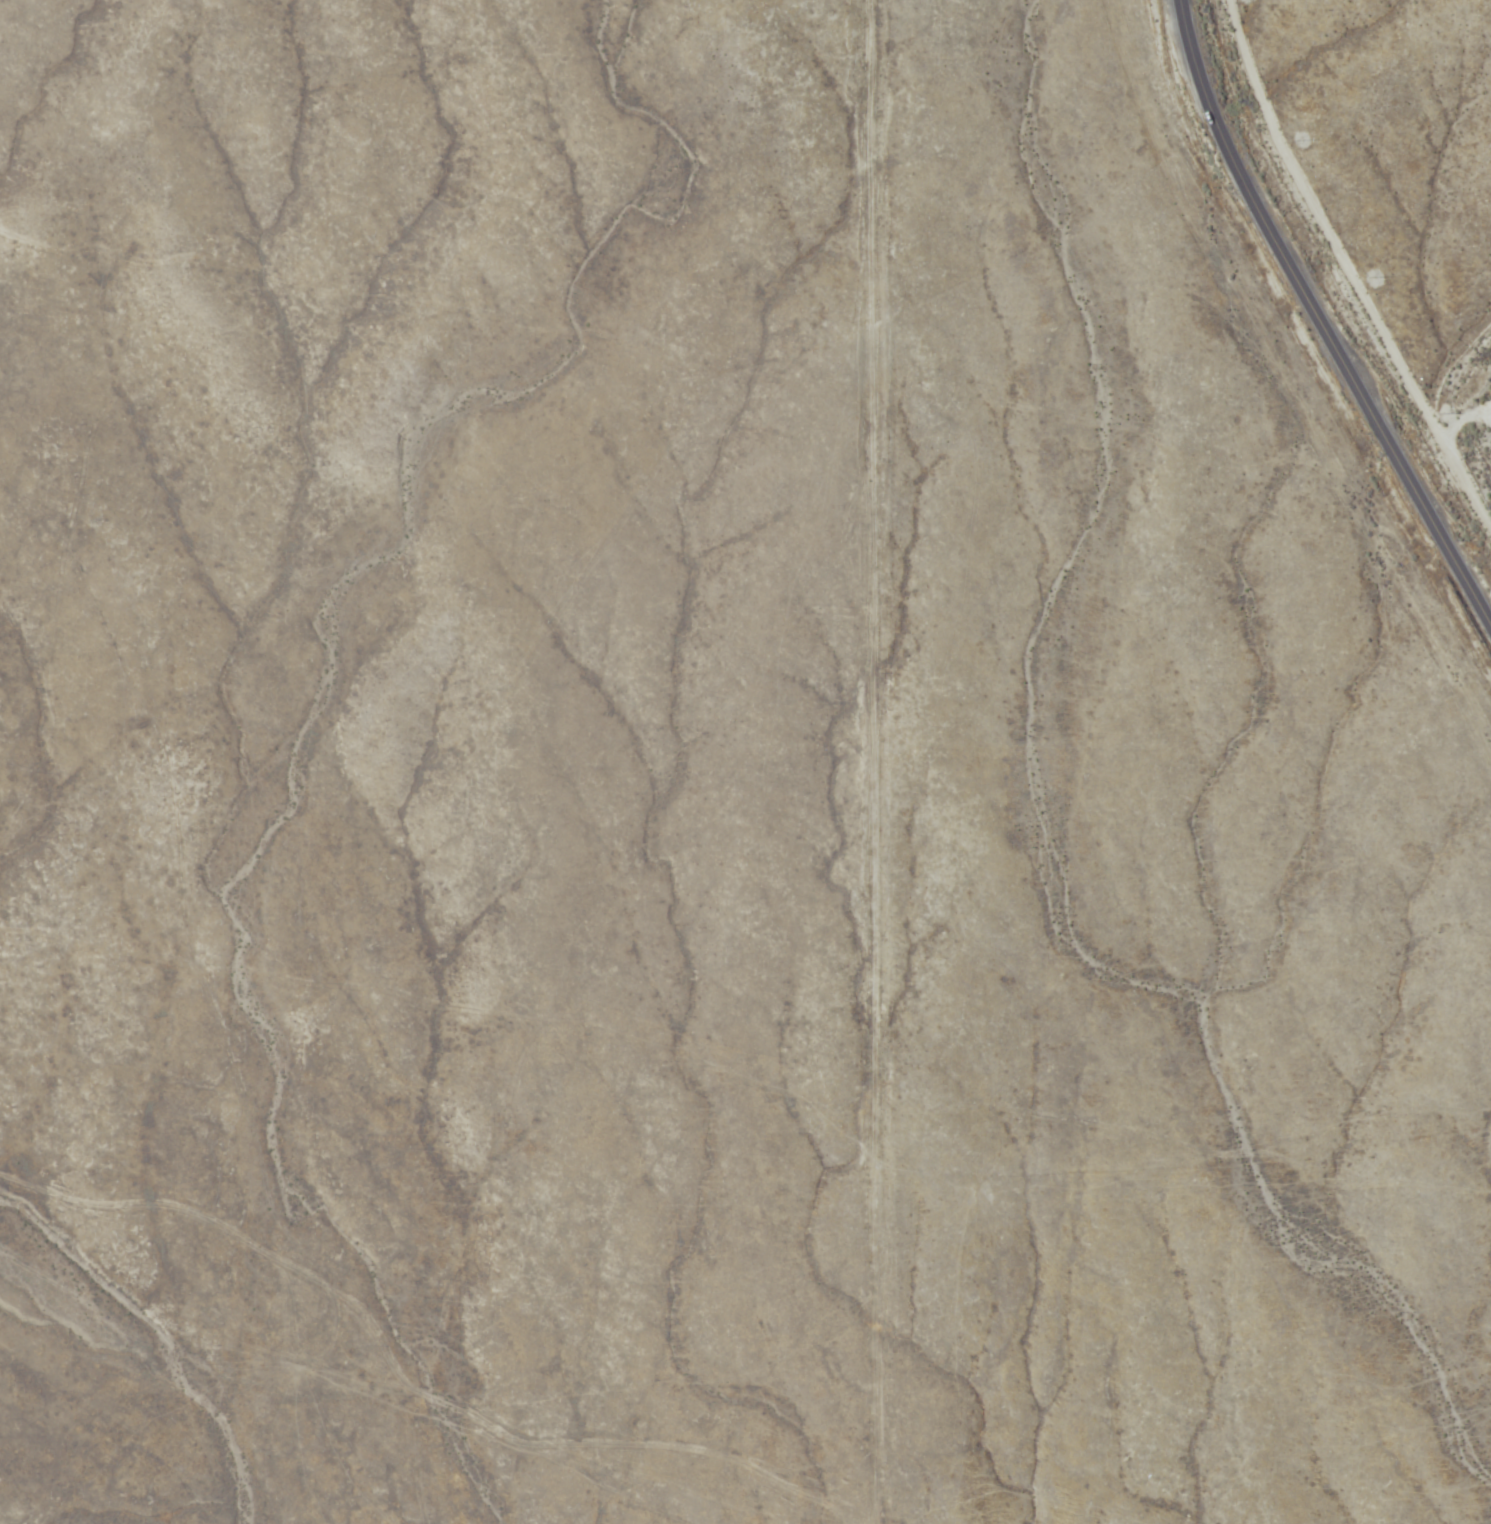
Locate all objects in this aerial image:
road: (1324, 317)

